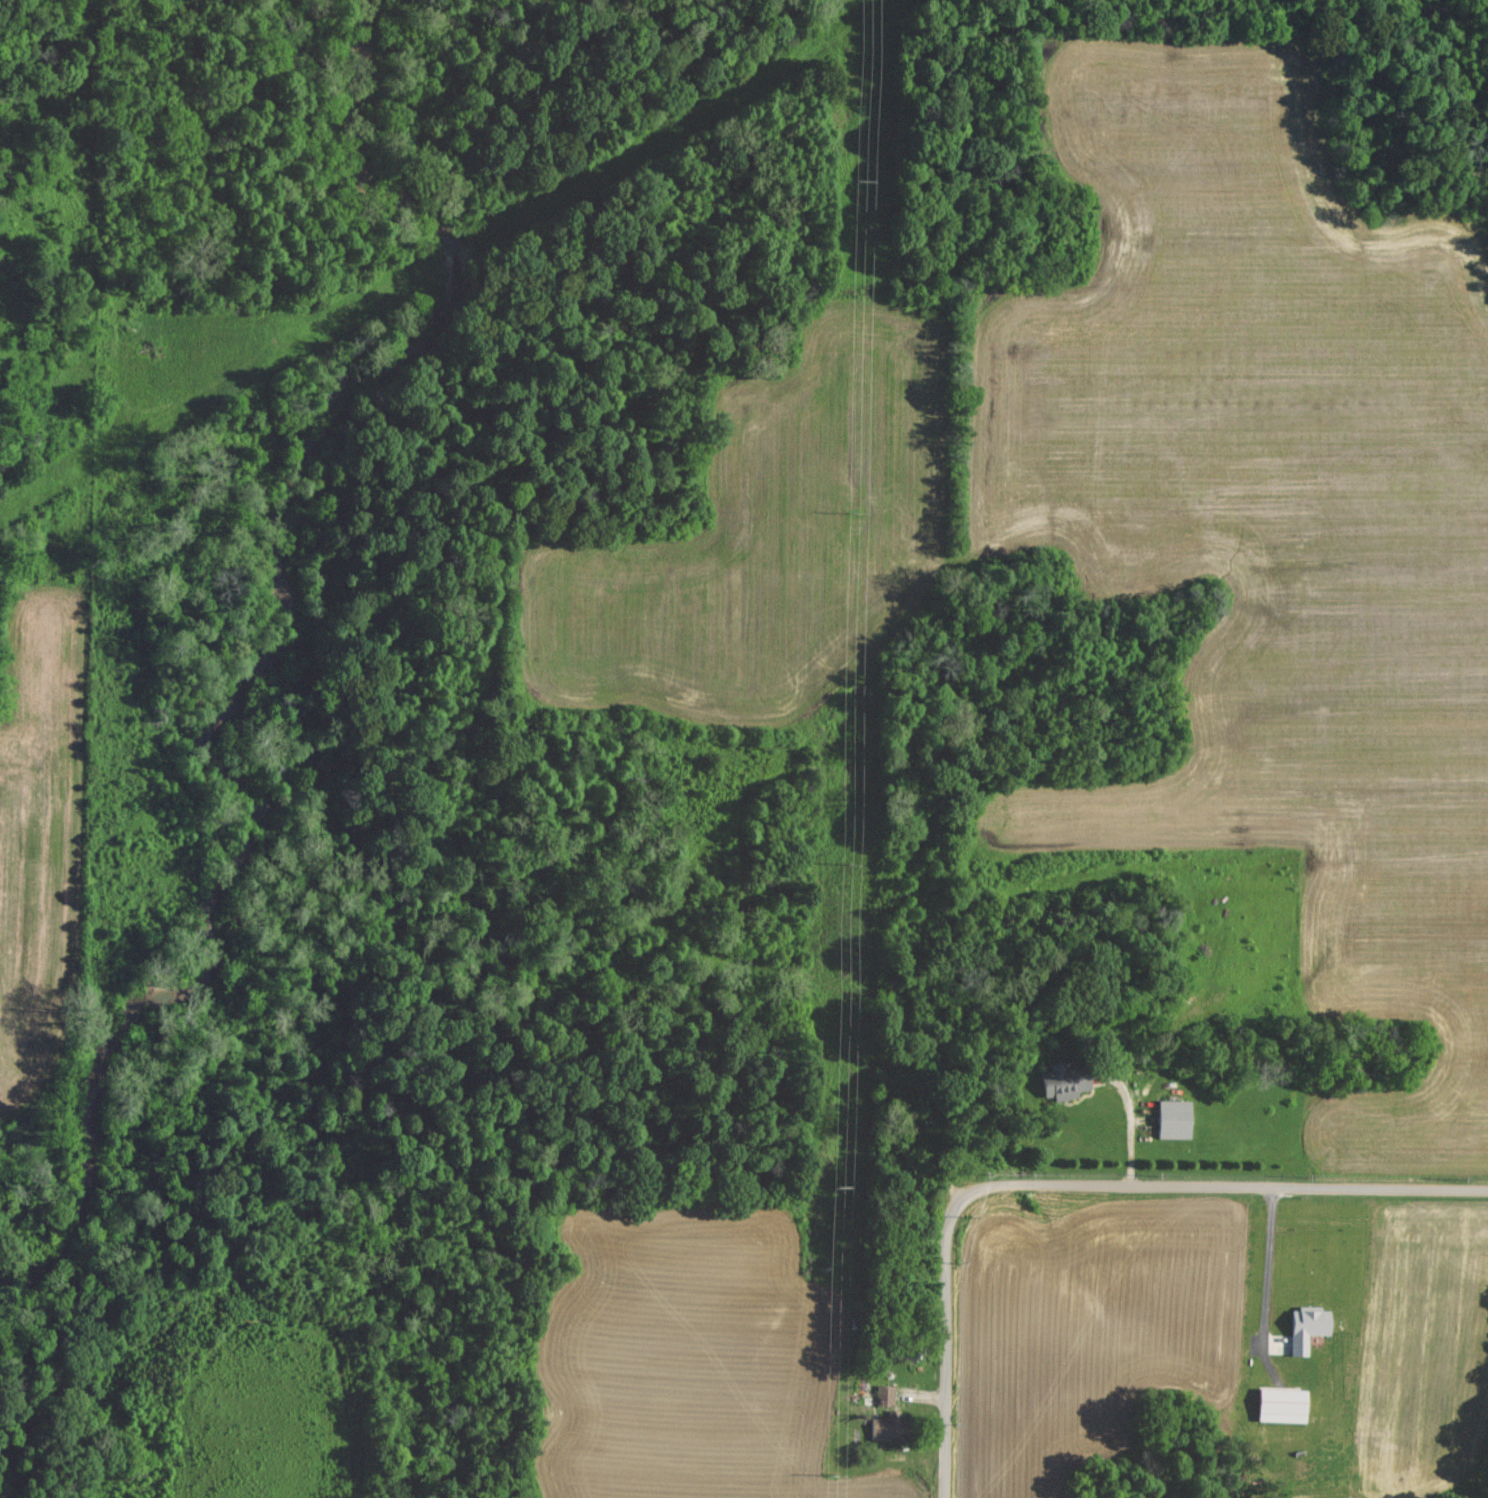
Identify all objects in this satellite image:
building: (1069, 1083)
building: (1177, 1118)
road: (1131, 1128)
road: (1069, 1185)
building: (1311, 1325)
building: (887, 1393)
building: (885, 1427)

